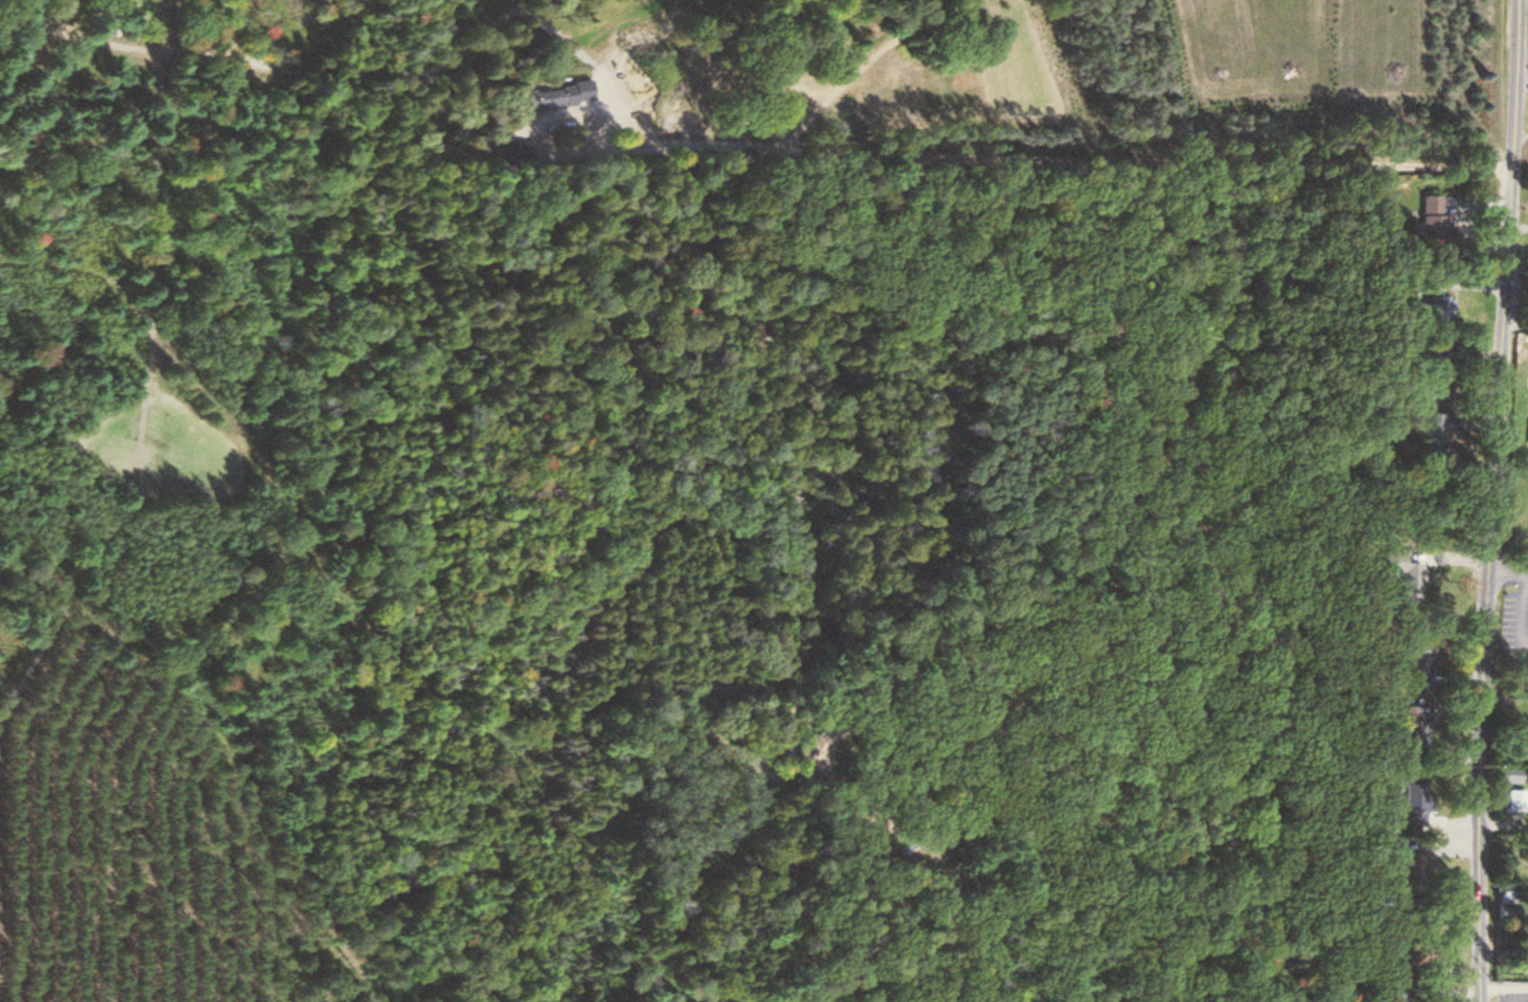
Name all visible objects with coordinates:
building: (545, 96)
road: (784, 134)
building: (509, 151)
building: (1429, 220)
building: (1438, 305)
building: (1432, 429)
building: (1527, 431)
road: (1493, 501)
building: (1412, 665)
building: (1404, 726)
building: (807, 755)
building: (1508, 773)
building: (1510, 797)
building: (1405, 806)
building: (1411, 866)
building: (1503, 910)

